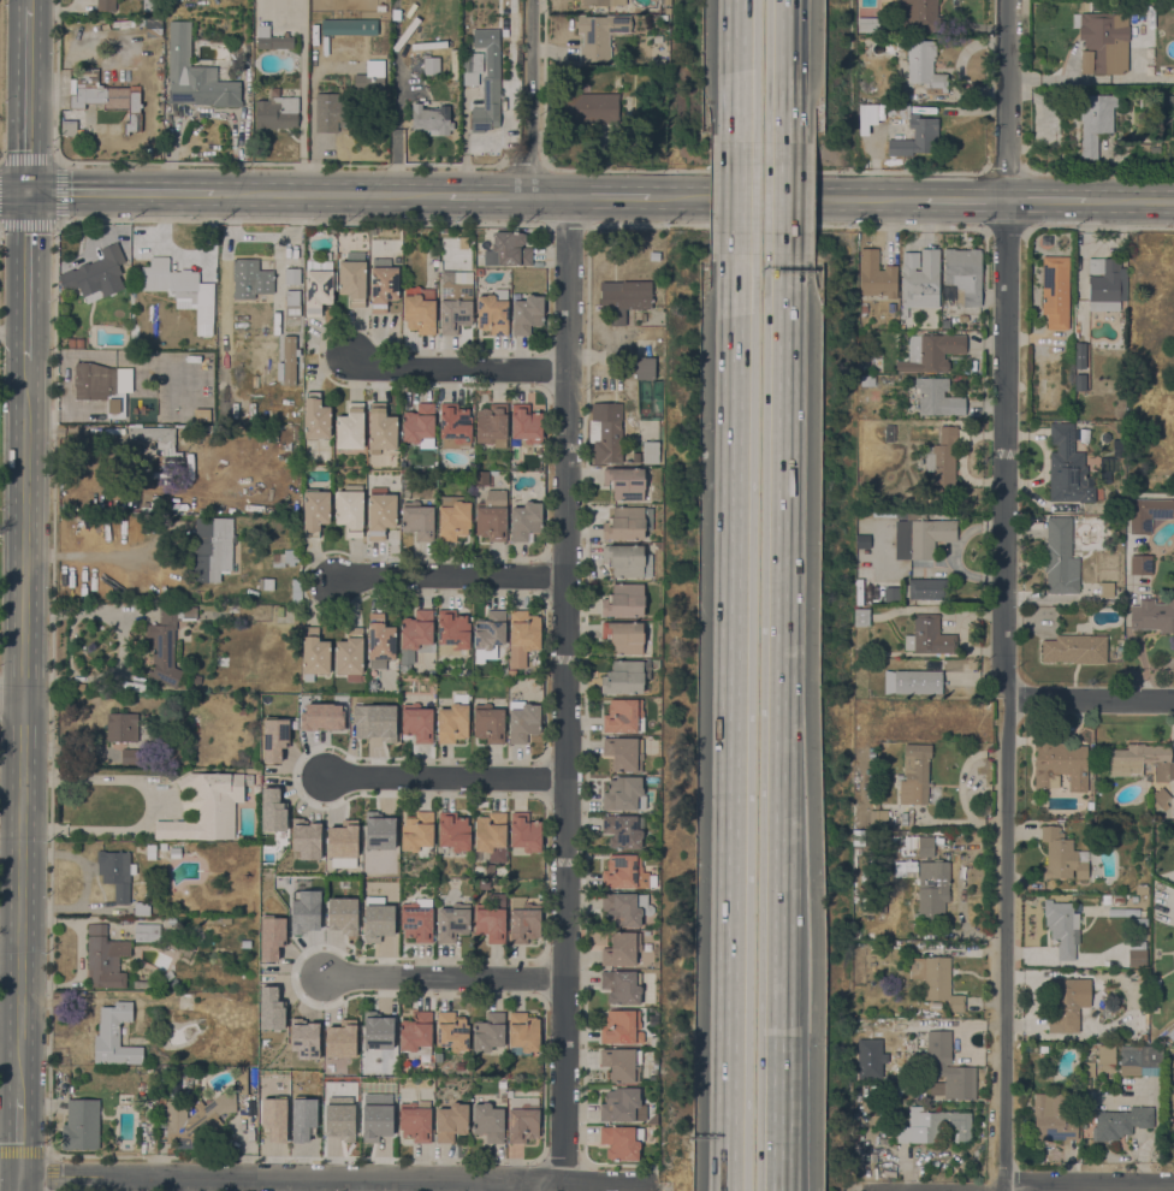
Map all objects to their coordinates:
road: (26, 4)
building: (600, 4)
building: (666, 4)
building: (106, 5)
building: (150, 5)
building: (919, 14)
building: (867, 24)
building: (152, 26)
building: (349, 26)
building: (599, 35)
building: (146, 36)
building: (1103, 37)
building: (272, 38)
building: (472, 61)
building: (657, 61)
building: (431, 65)
building: (924, 66)
road: (739, 71)
road: (785, 71)
building: (195, 75)
building: (370, 79)
building: (470, 79)
road: (527, 96)
road: (26, 99)
building: (108, 101)
building: (485, 106)
building: (588, 106)
building: (277, 113)
building: (331, 113)
building: (432, 117)
building: (861, 119)
building: (1095, 122)
building: (913, 132)
building: (1143, 147)
road: (198, 162)
road: (523, 166)
road: (712, 170)
road: (1006, 172)
street lamp: (836, 173)
street lamp: (974, 174)
road: (1098, 174)
road: (13, 188)
traffic signals: (28, 189)
road: (121, 190)
road: (58, 191)
road: (331, 192)
road: (485, 194)
road: (724, 196)
road: (737, 197)
road: (784, 198)
road: (965, 198)
road: (1089, 200)
street lamp: (903, 226)
street lamp: (1037, 227)
road: (1098, 229)
building: (508, 249)
building: (397, 259)
building: (95, 269)
building: (479, 272)
road: (26, 274)
building: (963, 274)
building: (876, 275)
building: (291, 277)
building: (352, 278)
building: (250, 279)
building: (920, 279)
building: (318, 282)
building: (383, 284)
building: (1105, 284)
building: (179, 285)
building: (1055, 291)
building: (949, 295)
building: (624, 297)
building: (455, 301)
building: (292, 302)
building: (419, 309)
building: (864, 309)
building: (493, 312)
building: (527, 314)
building: (903, 314)
road: (13, 333)
building: (71, 343)
building: (79, 343)
building: (931, 351)
building: (1080, 354)
building: (287, 360)
road: (456, 367)
building: (645, 368)
building: (867, 381)
building: (1080, 381)
building: (292, 385)
building: (99, 387)
building: (937, 397)
building: (135, 414)
building: (194, 416)
building: (315, 417)
building: (419, 425)
building: (492, 425)
building: (455, 426)
building: (526, 426)
building: (350, 427)
building: (381, 429)
building: (606, 432)
building: (889, 433)
building: (1084, 435)
building: (161, 445)
building: (1117, 448)
building: (650, 452)
building: (942, 461)
building: (1067, 468)
building: (493, 473)
building: (480, 479)
building: (624, 482)
building: (350, 509)
building: (1095, 509)
building: (315, 511)
building: (380, 512)
building: (1148, 514)
building: (901, 515)
building: (492, 516)
building: (453, 519)
building: (524, 519)
building: (417, 520)
building: (628, 523)
building: (924, 538)
building: (862, 541)
building: (212, 549)
building: (1060, 557)
road: (91, 558)
building: (285, 558)
building: (628, 561)
building: (1140, 564)
road: (449, 575)
building: (266, 583)
building: (296, 591)
building: (929, 591)
building: (859, 592)
road: (1003, 593)
building: (867, 594)
building: (891, 594)
building: (624, 600)
building: (1154, 615)
building: (861, 617)
road: (781, 621)
building: (452, 632)
building: (488, 633)
building: (415, 636)
building: (523, 636)
building: (623, 636)
building: (929, 636)
building: (380, 641)
building: (166, 642)
road: (120, 644)
building: (1075, 648)
building: (859, 653)
building: (314, 654)
building: (350, 654)
building: (503, 671)
building: (512, 672)
building: (627, 676)
building: (913, 681)
road: (564, 686)
road: (734, 695)
road: (13, 700)
road: (1091, 700)
building: (242, 709)
building: (321, 716)
building: (622, 716)
building: (453, 719)
building: (490, 721)
building: (522, 721)
building: (374, 722)
building: (417, 722)
building: (121, 727)
road: (26, 728)
building: (273, 739)
building: (168, 752)
building: (623, 753)
building: (130, 757)
building: (1142, 762)
building: (1060, 765)
building: (914, 774)
building: (172, 775)
road: (449, 777)
building: (255, 790)
building: (624, 794)
building: (1160, 799)
building: (1090, 805)
building: (208, 806)
road: (148, 807)
building: (271, 811)
building: (903, 814)
building: (877, 816)
building: (903, 822)
building: (378, 830)
building: (453, 831)
building: (623, 831)
building: (858, 831)
building: (526, 832)
building: (419, 834)
building: (492, 836)
building: (306, 839)
building: (855, 839)
building: (342, 845)
building: (162, 846)
building: (925, 846)
building: (152, 852)
building: (176, 852)
road: (12, 855)
building: (1062, 855)
building: (490, 870)
building: (627, 872)
building: (117, 873)
building: (484, 884)
building: (929, 885)
building: (1142, 888)
building: (867, 893)
building: (1119, 899)
building: (1105, 900)
building: (1140, 900)
building: (1152, 903)
building: (625, 908)
building: (142, 909)
building: (296, 909)
building: (880, 911)
building: (113, 912)
building: (340, 916)
building: (492, 918)
building: (217, 919)
building: (376, 919)
building: (524, 919)
building: (417, 920)
building: (452, 922)
building: (1061, 926)
building: (147, 932)
building: (271, 937)
building: (184, 943)
road: (11, 946)
building: (622, 949)
road: (81, 953)
building: (105, 958)
building: (1137, 958)
building: (369, 961)
building: (168, 974)
road: (441, 976)
building: (141, 984)
building: (941, 984)
building: (621, 986)
building: (1156, 989)
building: (287, 994)
building: (380, 994)
building: (166, 995)
building: (1066, 1005)
building: (269, 1008)
building: (295, 1013)
building: (870, 1026)
building: (622, 1027)
building: (902, 1030)
building: (376, 1031)
building: (452, 1031)
building: (490, 1032)
building: (523, 1033)
building: (416, 1035)
building: (272, 1036)
building: (114, 1037)
building: (303, 1038)
building: (356, 1044)
building: (1043, 1049)
building: (1091, 1050)
building: (439, 1057)
building: (1107, 1057)
building: (432, 1059)
building: (1140, 1060)
building: (622, 1063)
building: (1087, 1068)
building: (948, 1069)
building: (1168, 1071)
building: (242, 1072)
building: (253, 1082)
building: (1085, 1084)
building: (242, 1089)
road: (777, 1090)
building: (622, 1106)
building: (196, 1116)
building: (375, 1116)
building: (273, 1118)
building: (1051, 1118)
building: (522, 1119)
building: (302, 1120)
building: (340, 1120)
building: (415, 1120)
building: (451, 1121)
building: (488, 1122)
building: (1121, 1122)
building: (81, 1125)
building: (932, 1125)
road: (19, 1136)
building: (622, 1142)
road: (717, 1163)
road: (729, 1163)
road: (10, 1174)
building: (889, 1174)
road: (332, 1177)
road: (18, 1183)
road: (172, 1184)
road: (515, 1184)
road: (1086, 1184)
road: (990, 1189)
road: (1000, 1189)

